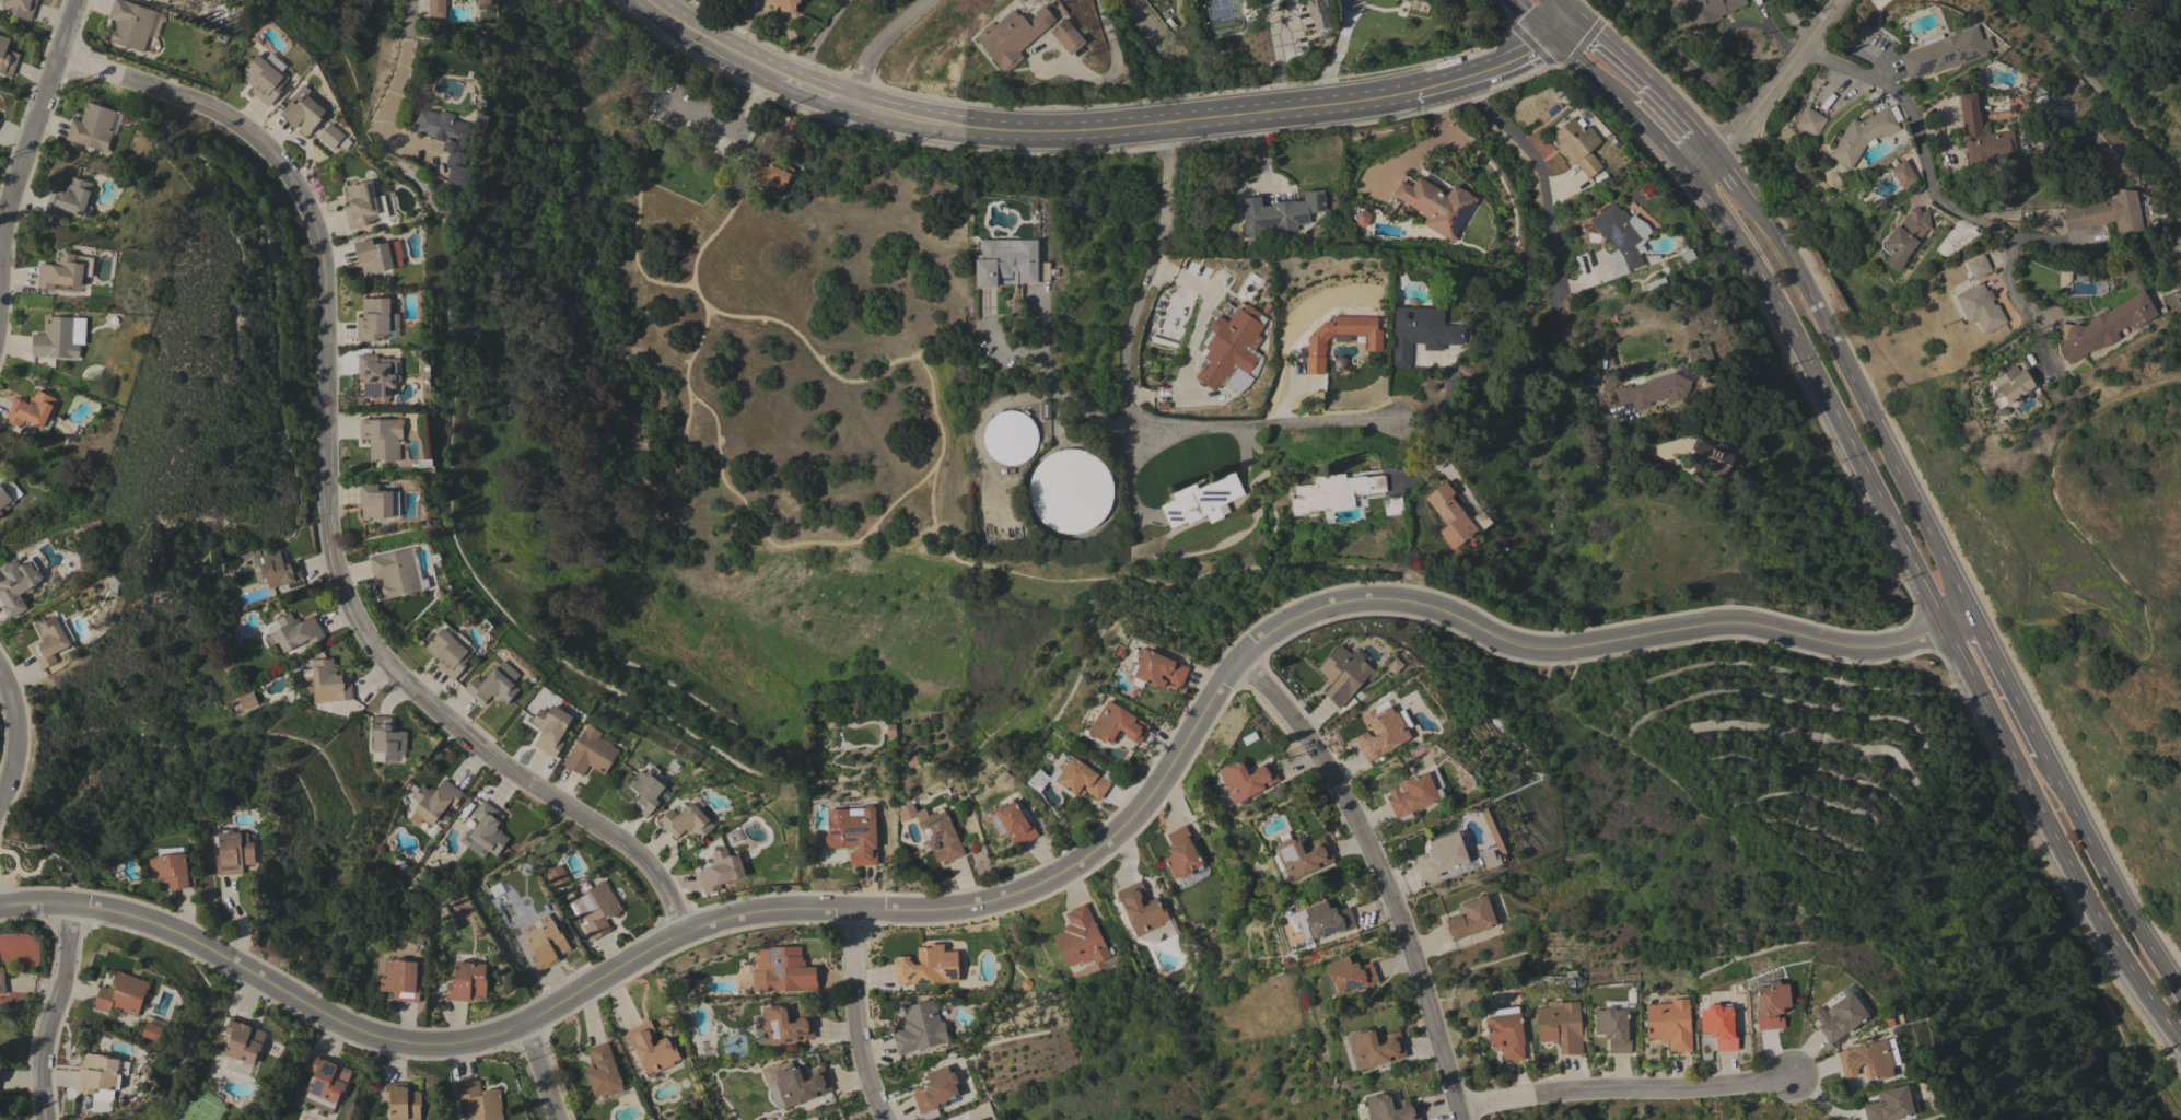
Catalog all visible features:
building: (189, 0)
building: (1419, 0)
building: (483, 2)
building: (1879, 3)
building: (785, 4)
road: (1573, 5)
building: (21, 8)
road: (1584, 8)
building: (436, 9)
building: (1705, 11)
building: (1318, 13)
road: (1531, 19)
road: (1795, 21)
road: (1145, 22)
building: (130, 24)
road: (1565, 24)
building: (1012, 36)
building: (1066, 36)
road: (817, 38)
road: (711, 39)
road: (880, 43)
building: (1944, 51)
road: (660, 54)
road: (1278, 55)
building: (7, 57)
road: (1682, 58)
road: (401, 63)
road: (1588, 70)
road: (1486, 72)
road: (1646, 78)
building: (264, 80)
road: (818, 87)
road: (2103, 91)
road: (743, 93)
road: (1772, 94)
road: (686, 105)
building: (303, 110)
parking lot: (698, 115)
road: (35, 121)
building: (1810, 121)
road: (661, 122)
road: (1133, 126)
building: (93, 127)
building: (1864, 135)
building: (330, 136)
road: (1654, 136)
building: (1983, 136)
building: (447, 140)
building: (1578, 145)
road: (1425, 147)
road: (2173, 162)
building: (771, 171)
building: (1902, 174)
road: (1933, 196)
building: (70, 198)
building: (360, 205)
building: (1436, 206)
building: (1279, 213)
building: (2108, 213)
building: (1904, 237)
building: (1621, 238)
road: (1549, 248)
building: (373, 256)
building: (1006, 261)
building: (1978, 267)
building: (65, 271)
building: (2064, 278)
road: (1817, 282)
building: (1980, 307)
building: (373, 319)
building: (2106, 327)
building: (1422, 332)
building: (1340, 338)
building: (56, 339)
building: (1231, 345)
park: (778, 355)
building: (378, 375)
road: (1847, 376)
building: (2014, 382)
road: (1055, 386)
building: (1654, 390)
road: (1124, 402)
building: (1045, 410)
building: (32, 411)
building: (1010, 436)
building: (383, 437)
building: (1712, 458)
road: (661, 467)
road: (1128, 478)
building: (1070, 490)
building: (1333, 492)
road: (326, 494)
building: (4, 500)
building: (377, 501)
building: (1202, 501)
building: (1392, 505)
building: (1449, 515)
road: (758, 518)
road: (945, 544)
building: (278, 569)
building: (396, 572)
building: (15, 585)
road: (1931, 607)
road: (2148, 610)
building: (290, 633)
building: (50, 641)
building: (231, 642)
building: (447, 653)
building: (1157, 669)
building: (1344, 675)
building: (327, 681)
road: (2005, 685)
building: (492, 686)
building: (247, 701)
building: (1117, 724)
building: (550, 728)
building: (1381, 731)
road: (13, 736)
building: (385, 738)
building: (590, 752)
building: (1077, 779)
building: (1245, 780)
building: (645, 791)
building: (1415, 793)
building: (433, 805)
building: (686, 821)
building: (1012, 824)
building: (487, 830)
building: (934, 831)
building: (854, 833)
building: (234, 851)
building: (1181, 854)
building: (1301, 855)
building: (1437, 857)
building: (1488, 860)
building: (172, 867)
building: (721, 871)
road: (2050, 873)
road: (1381, 875)
road: (2109, 875)
building: (557, 876)
road: (1023, 890)
building: (597, 908)
building: (1141, 909)
building: (1471, 918)
building: (1327, 920)
building: (1081, 938)
building: (544, 942)
building: (928, 966)
building: (782, 970)
building: (1349, 975)
building: (400, 980)
building: (2, 981)
building: (467, 981)
building: (121, 994)
building: (1771, 1004)
road: (51, 1012)
building: (1841, 1016)
road: (854, 1018)
building: (1670, 1024)
building: (781, 1026)
building: (1562, 1026)
building: (1719, 1026)
building: (919, 1027)
building: (1613, 1027)
building: (152, 1031)
building: (1505, 1032)
building: (243, 1041)
building: (1375, 1048)
building: (651, 1049)
building: (1891, 1051)
building: (1867, 1061)
building: (600, 1070)
road: (537, 1072)
building: (98, 1073)
building: (327, 1081)
building: (793, 1083)
building: (935, 1089)
road: (1625, 1093)
building: (403, 1101)
building: (479, 1101)
building: (1890, 1105)
building: (1390, 1108)
building: (978, 1119)

